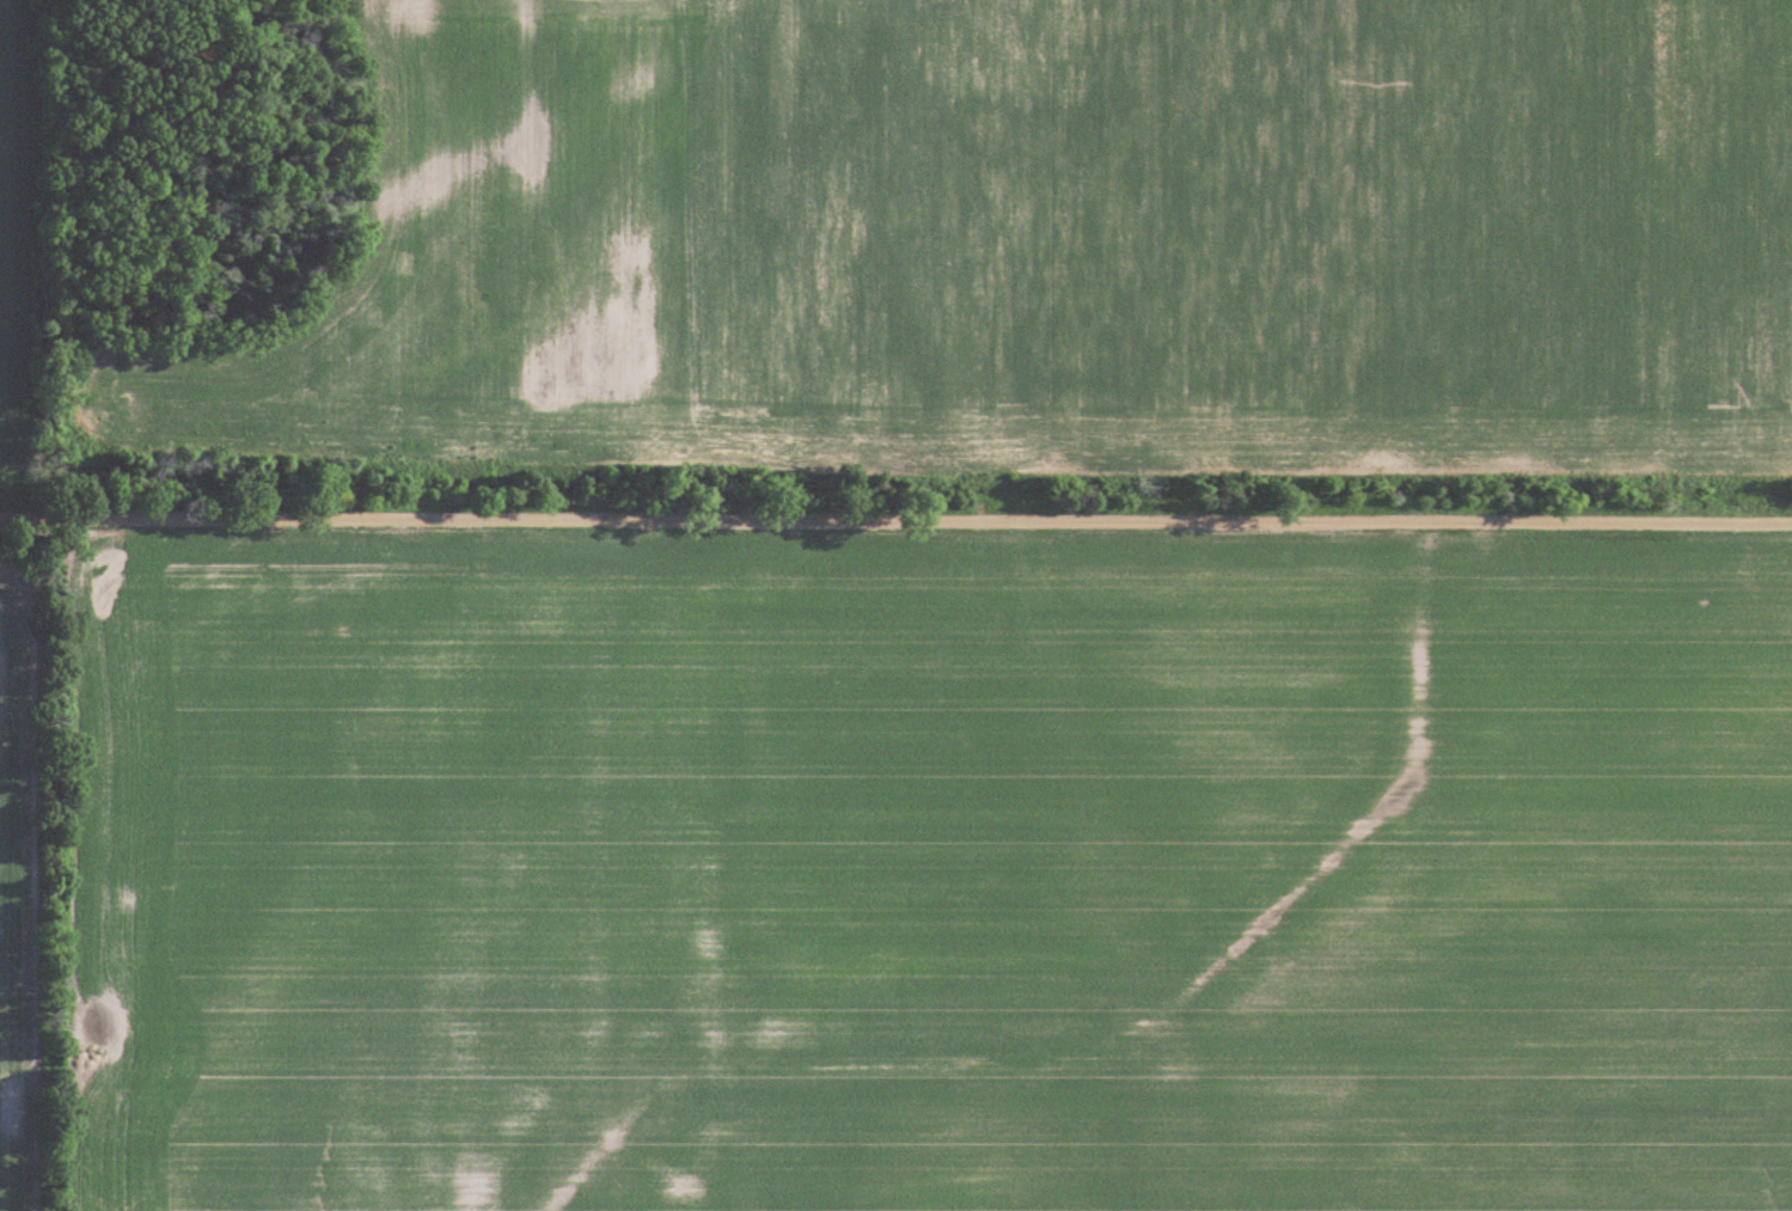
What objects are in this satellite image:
road: (895, 524)

